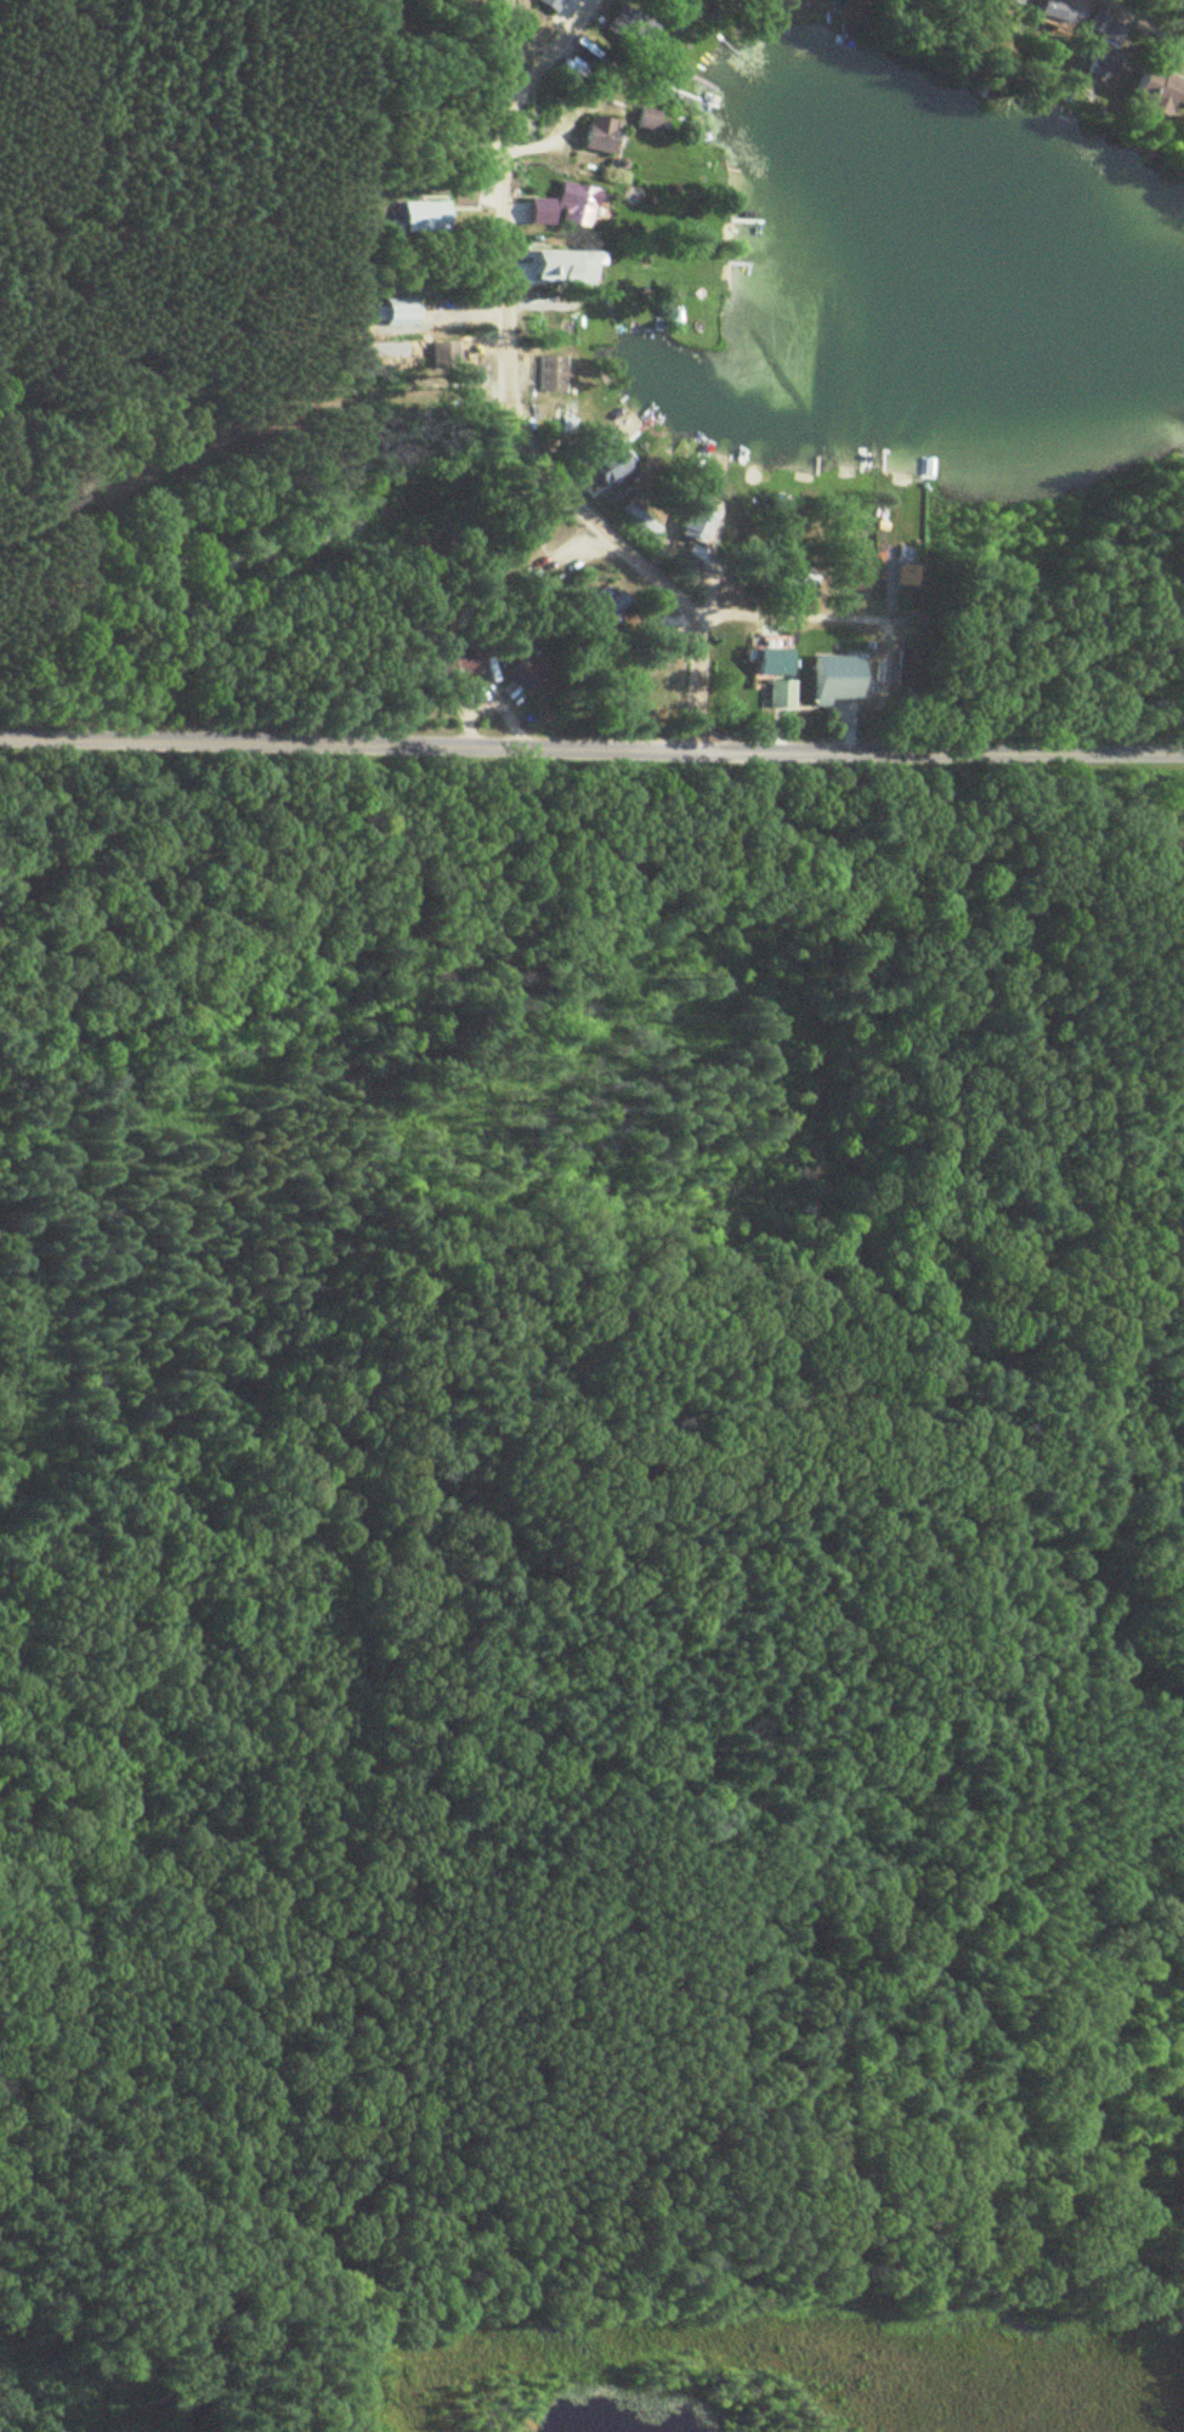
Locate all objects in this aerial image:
building: (1003, 2)
building: (548, 5)
road: (1138, 24)
building: (1099, 49)
road: (509, 51)
building: (1155, 93)
building: (645, 120)
building: (596, 136)
building: (578, 210)
building: (423, 217)
road: (472, 313)
building: (548, 375)
road: (506, 398)
building: (556, 419)
building: (583, 470)
building: (680, 557)
building: (797, 574)
building: (906, 578)
building: (599, 608)
road: (801, 619)
building: (464, 662)
building: (766, 664)
building: (521, 675)
building: (829, 680)
building: (903, 680)
building: (775, 696)
road: (591, 743)
road: (1043, 1765)

